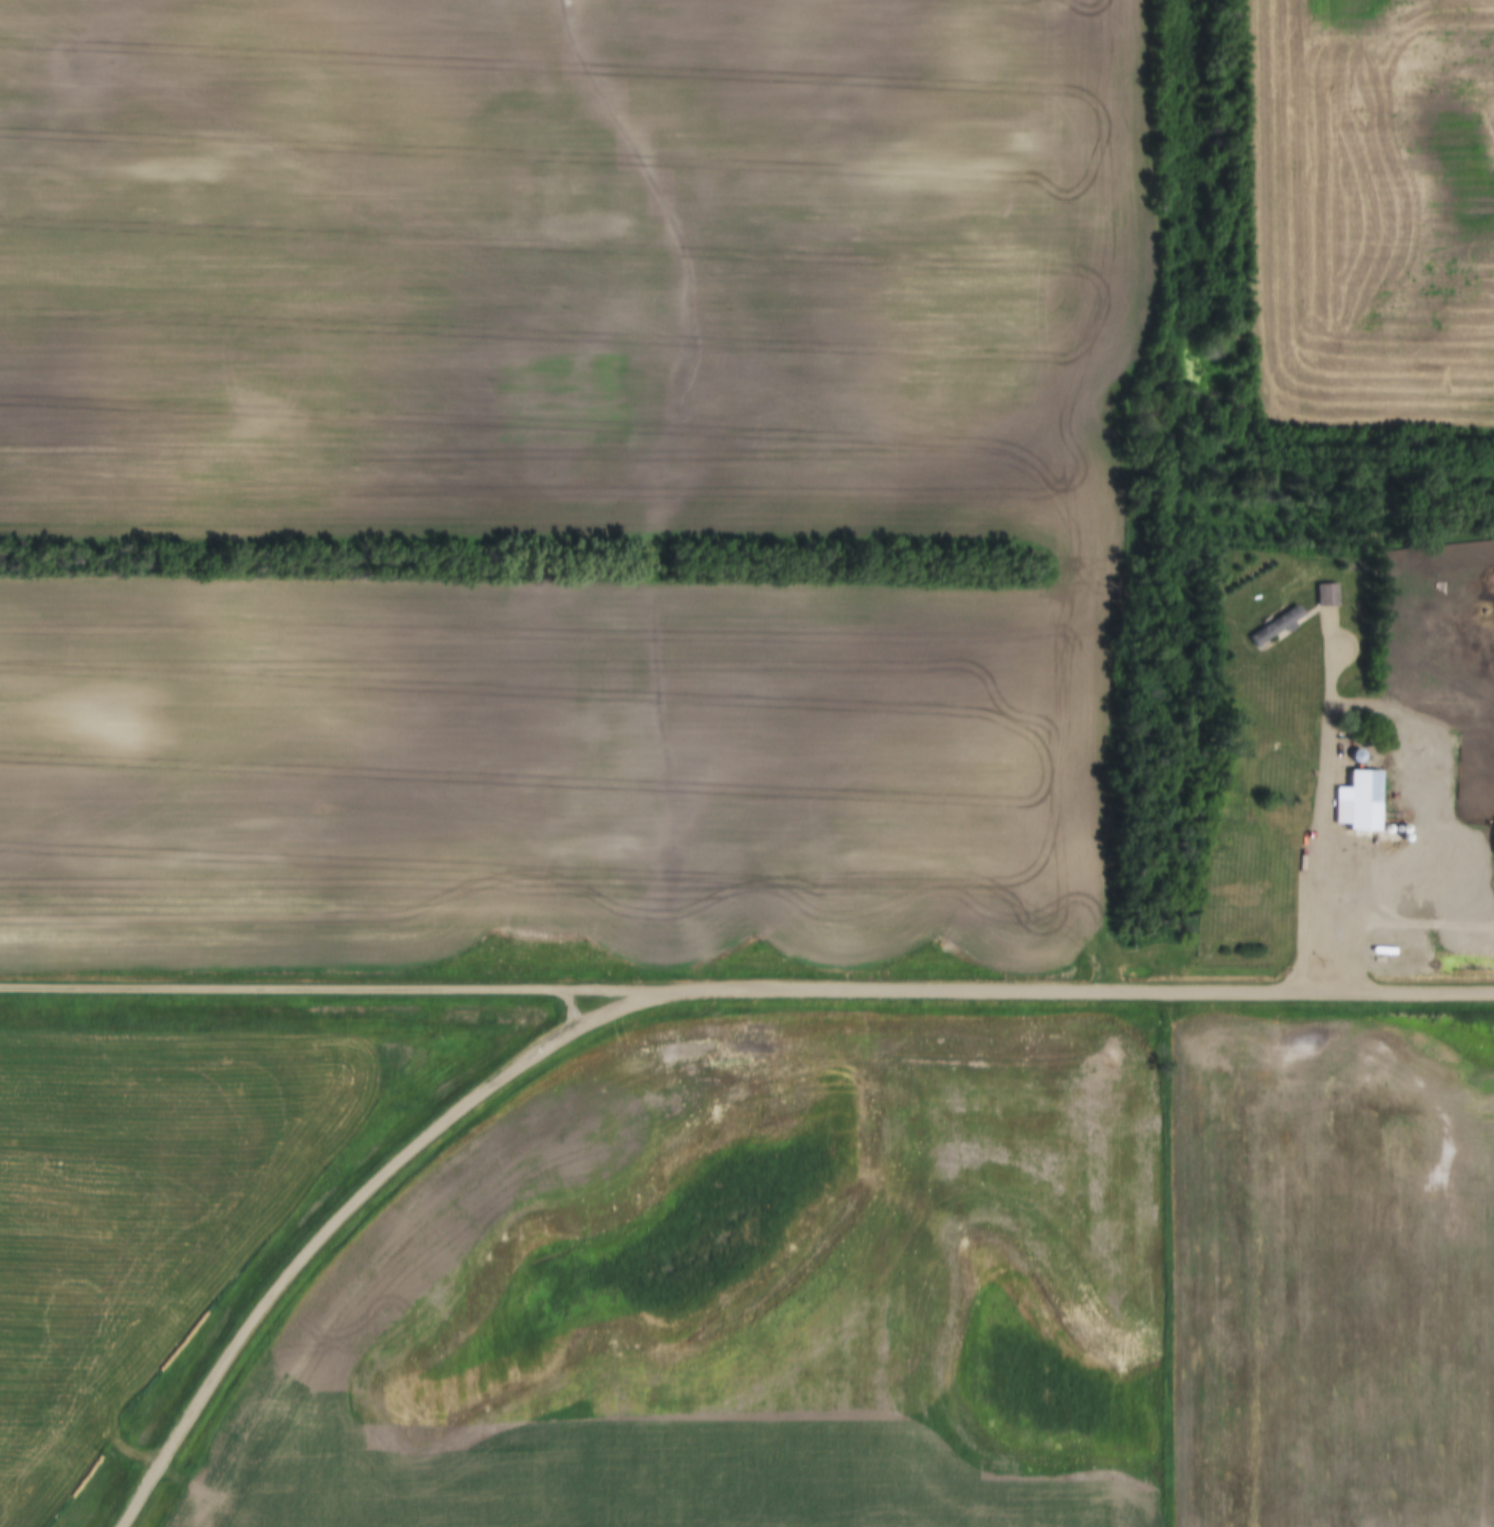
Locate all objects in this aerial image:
building: (1324, 594)
building: (1273, 625)
building: (1353, 755)
silo: (1353, 755)
building: (1356, 801)
building: (1492, 842)
road: (1304, 892)
road: (342, 986)
road: (689, 989)

